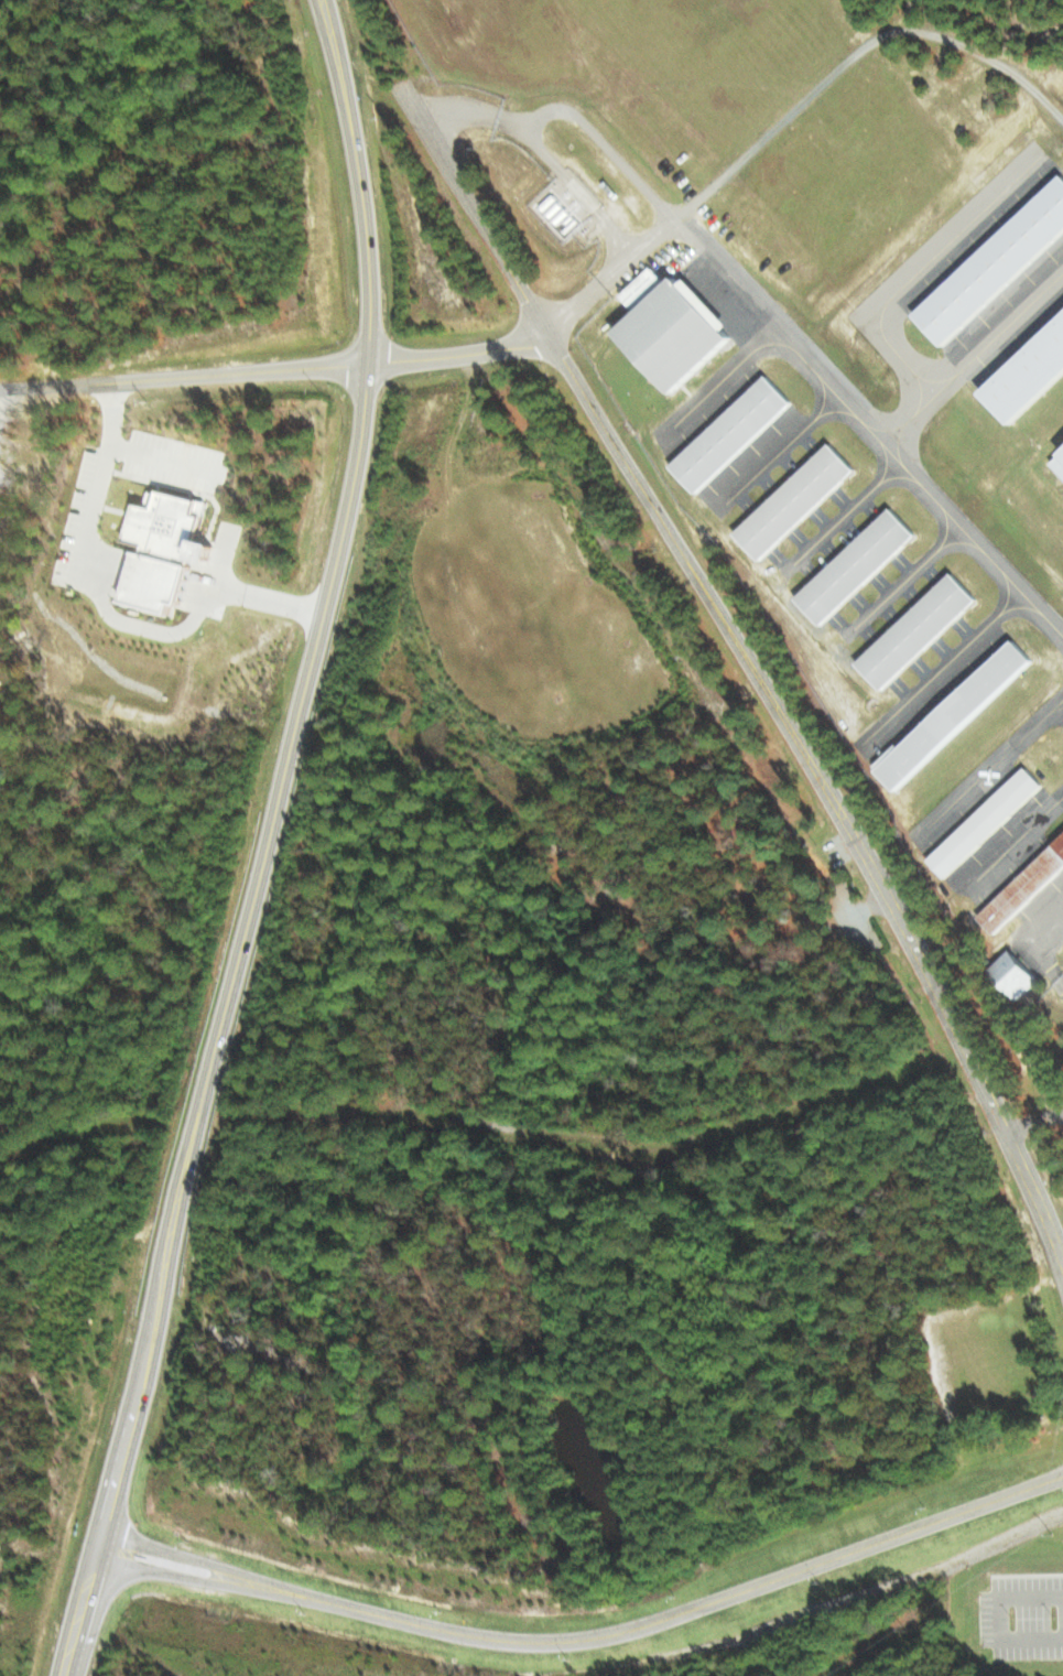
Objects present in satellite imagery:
airport hangar: (995, 264)
building: (995, 264)
building: (642, 285)
airport hangar: (674, 333)
building: (674, 333)
road: (274, 374)
airport hangar: (1028, 376)
building: (1028, 376)
airport: (827, 411)
airport hangar: (731, 433)
building: (731, 433)
airport hangar: (1060, 463)
building: (1060, 464)
airport apron: (869, 489)
airport hangar: (796, 501)
building: (796, 501)
building: (169, 549)
airport hangar: (858, 567)
building: (858, 567)
road: (329, 569)
airport hangar: (918, 630)
building: (918, 630)
road: (761, 680)
airport hangar: (958, 712)
building: (958, 712)
airport hangar: (987, 823)
building: (987, 823)
airport hangar: (1022, 885)
building: (1022, 885)
building: (1009, 973)
road: (194, 1140)
road: (127, 1413)
road: (587, 1639)

